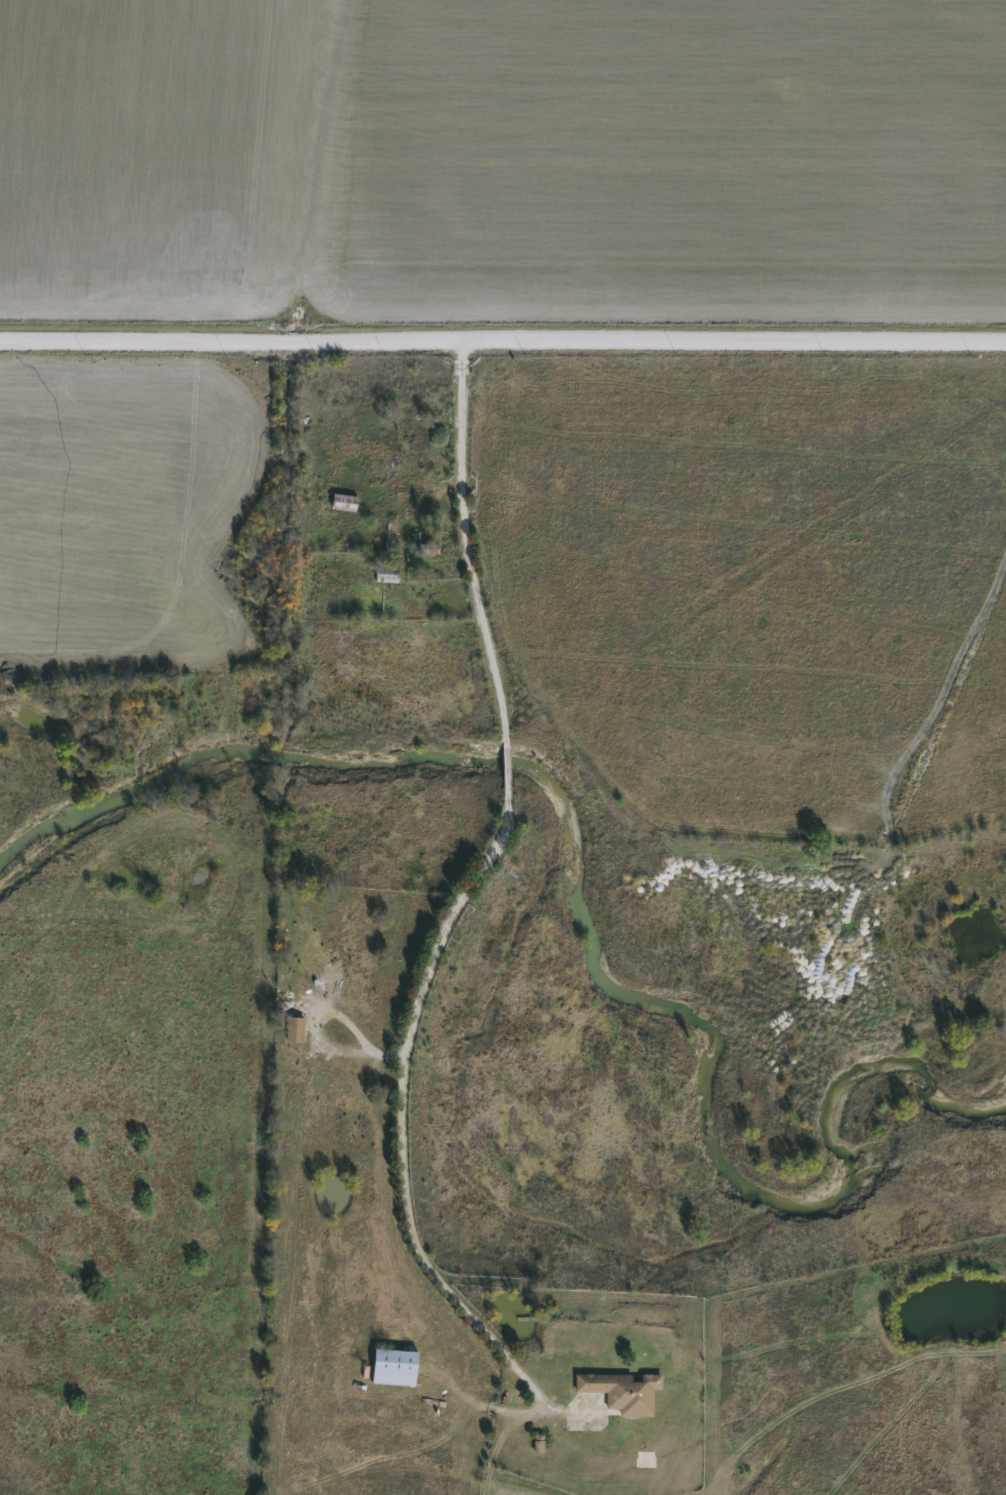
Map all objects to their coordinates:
road: (503, 342)
building: (344, 502)
road: (465, 545)
building: (386, 575)
road: (506, 765)
building: (310, 992)
road: (346, 1022)
building: (295, 1030)
road: (401, 1078)
building: (394, 1367)
building: (622, 1392)
road: (543, 1400)
road: (482, 1402)

